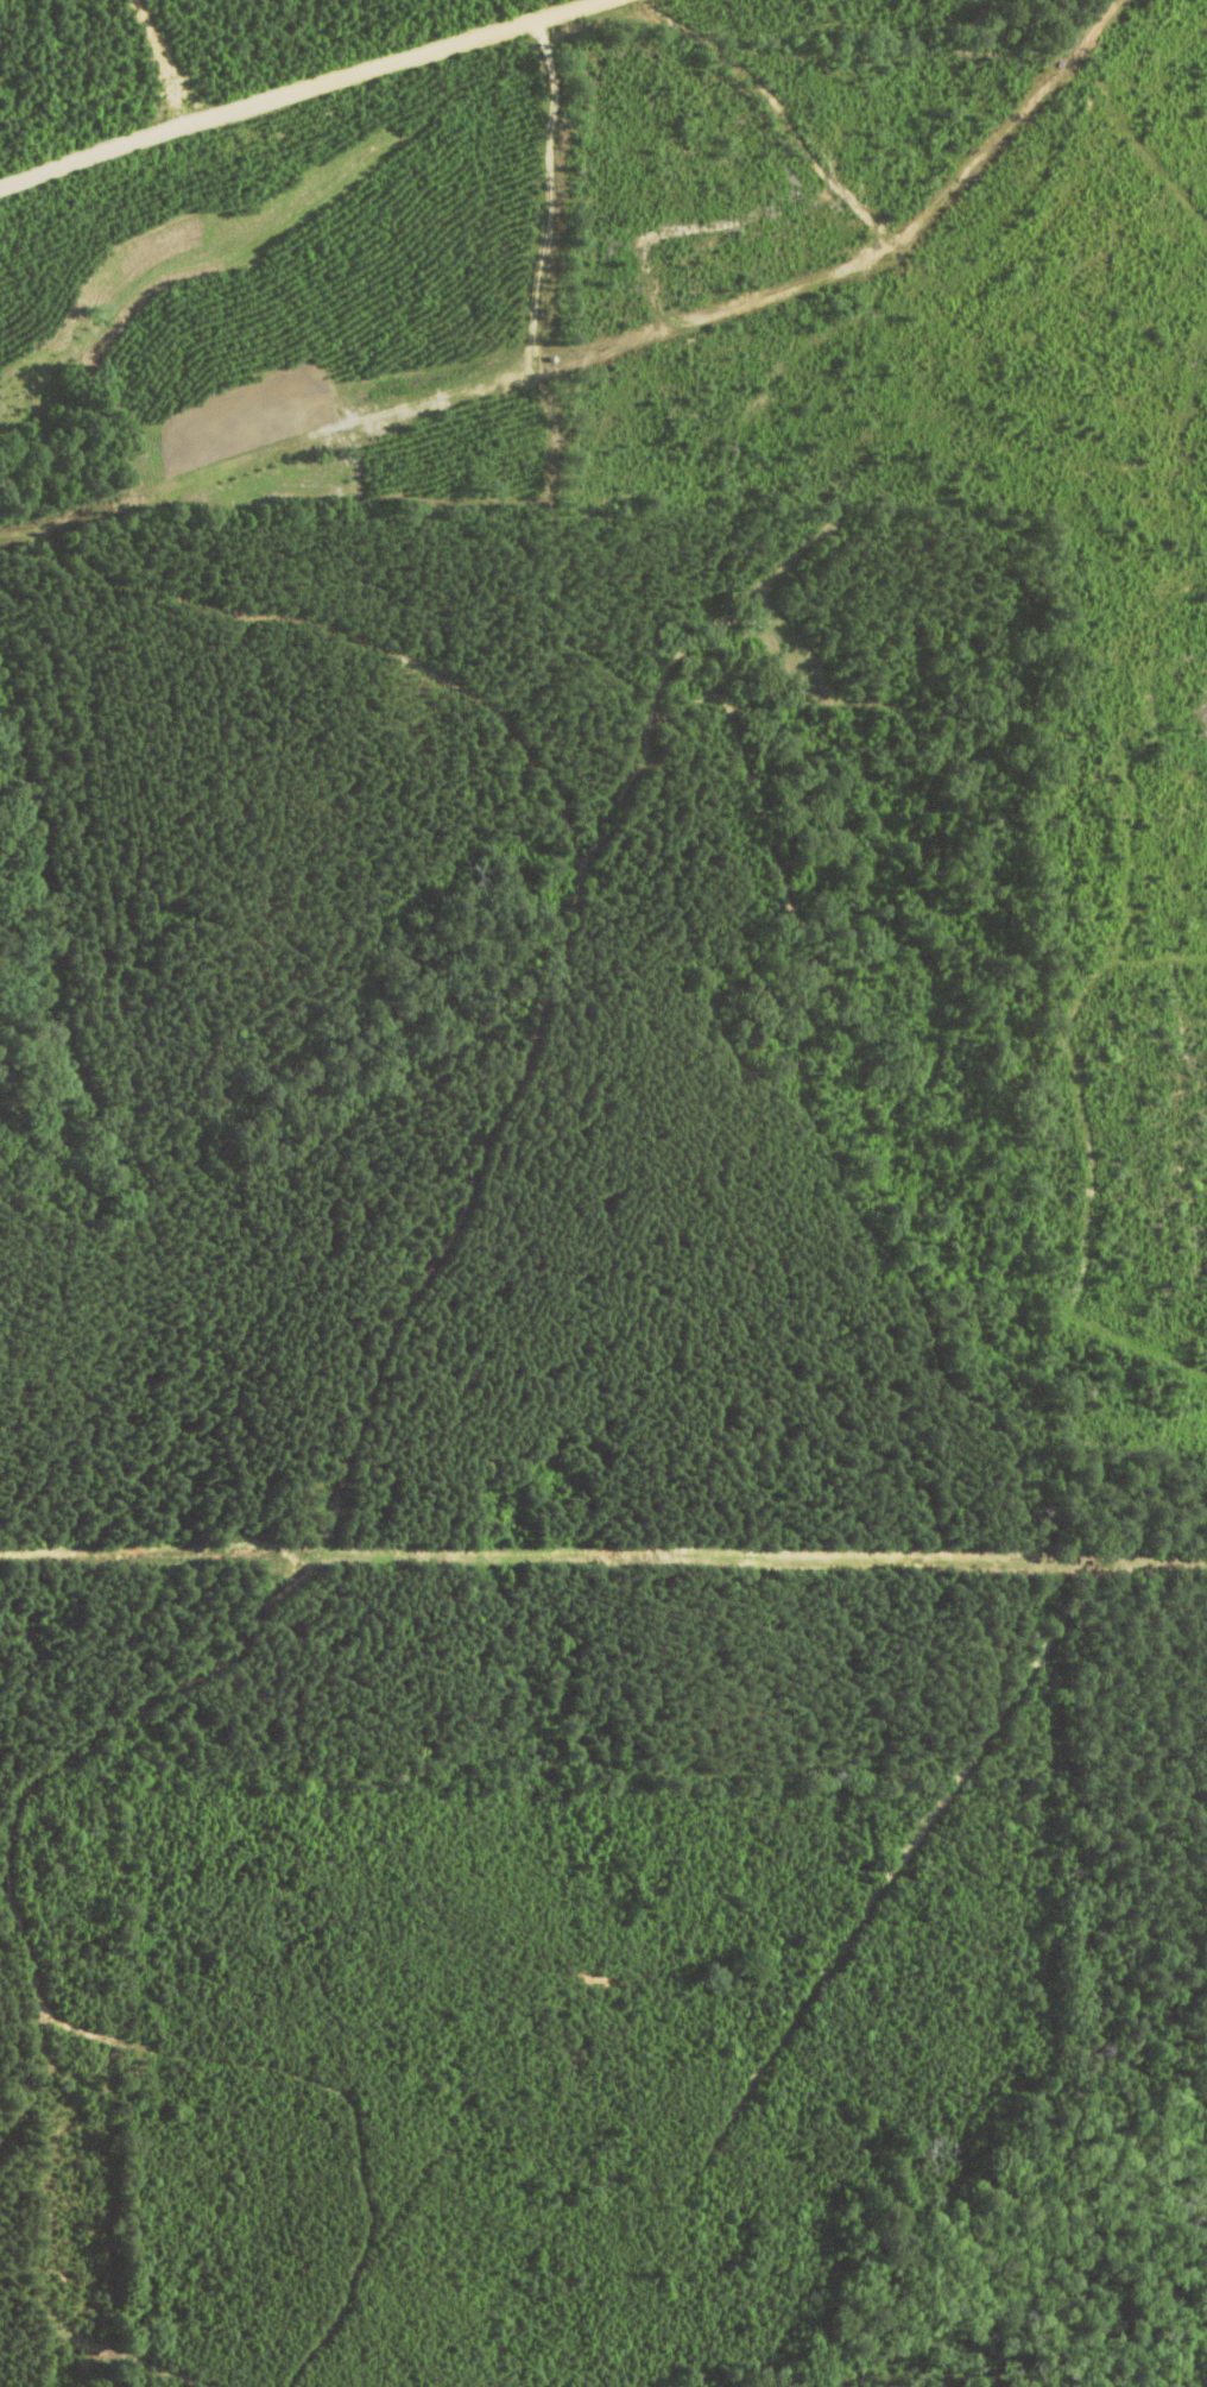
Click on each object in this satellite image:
road: (302, 88)

